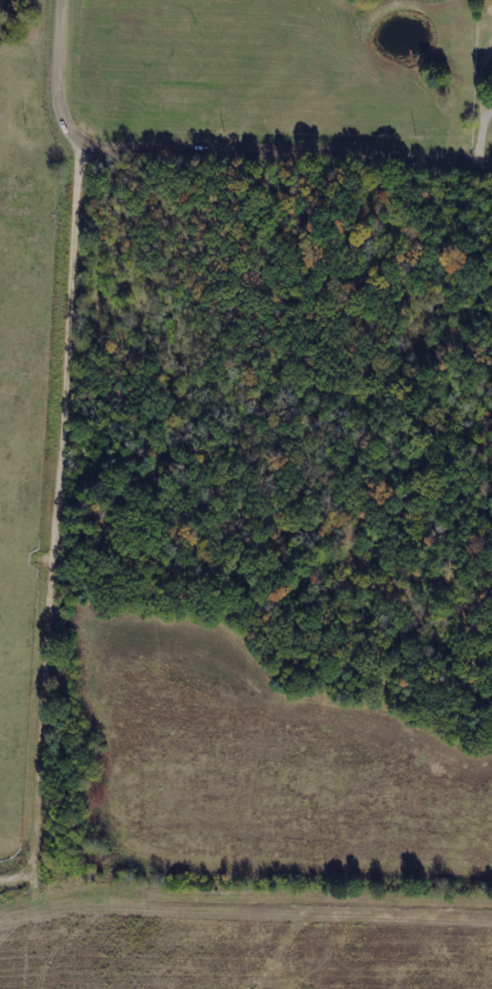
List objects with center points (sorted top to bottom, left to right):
road: (64, 73)
road: (285, 152)
road: (57, 519)

